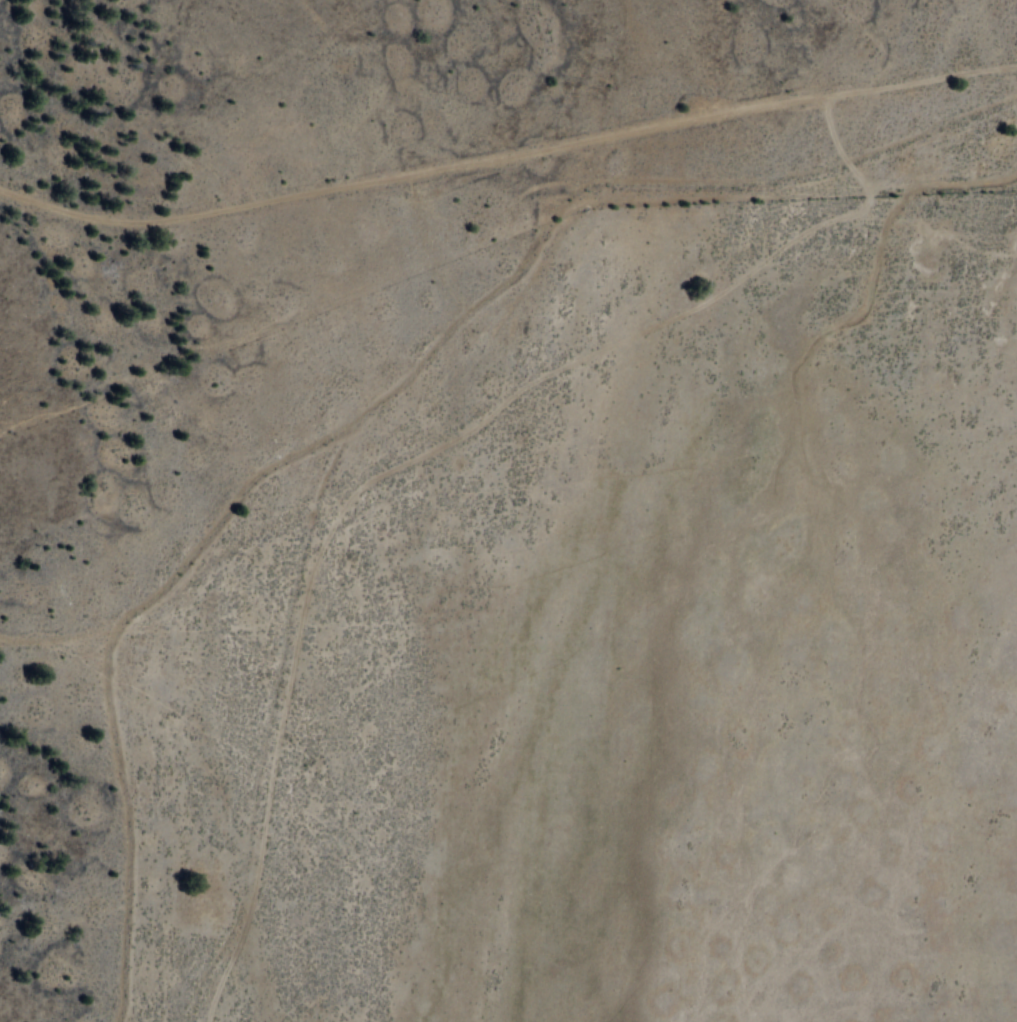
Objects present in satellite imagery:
road: (506, 162)
road: (484, 431)

